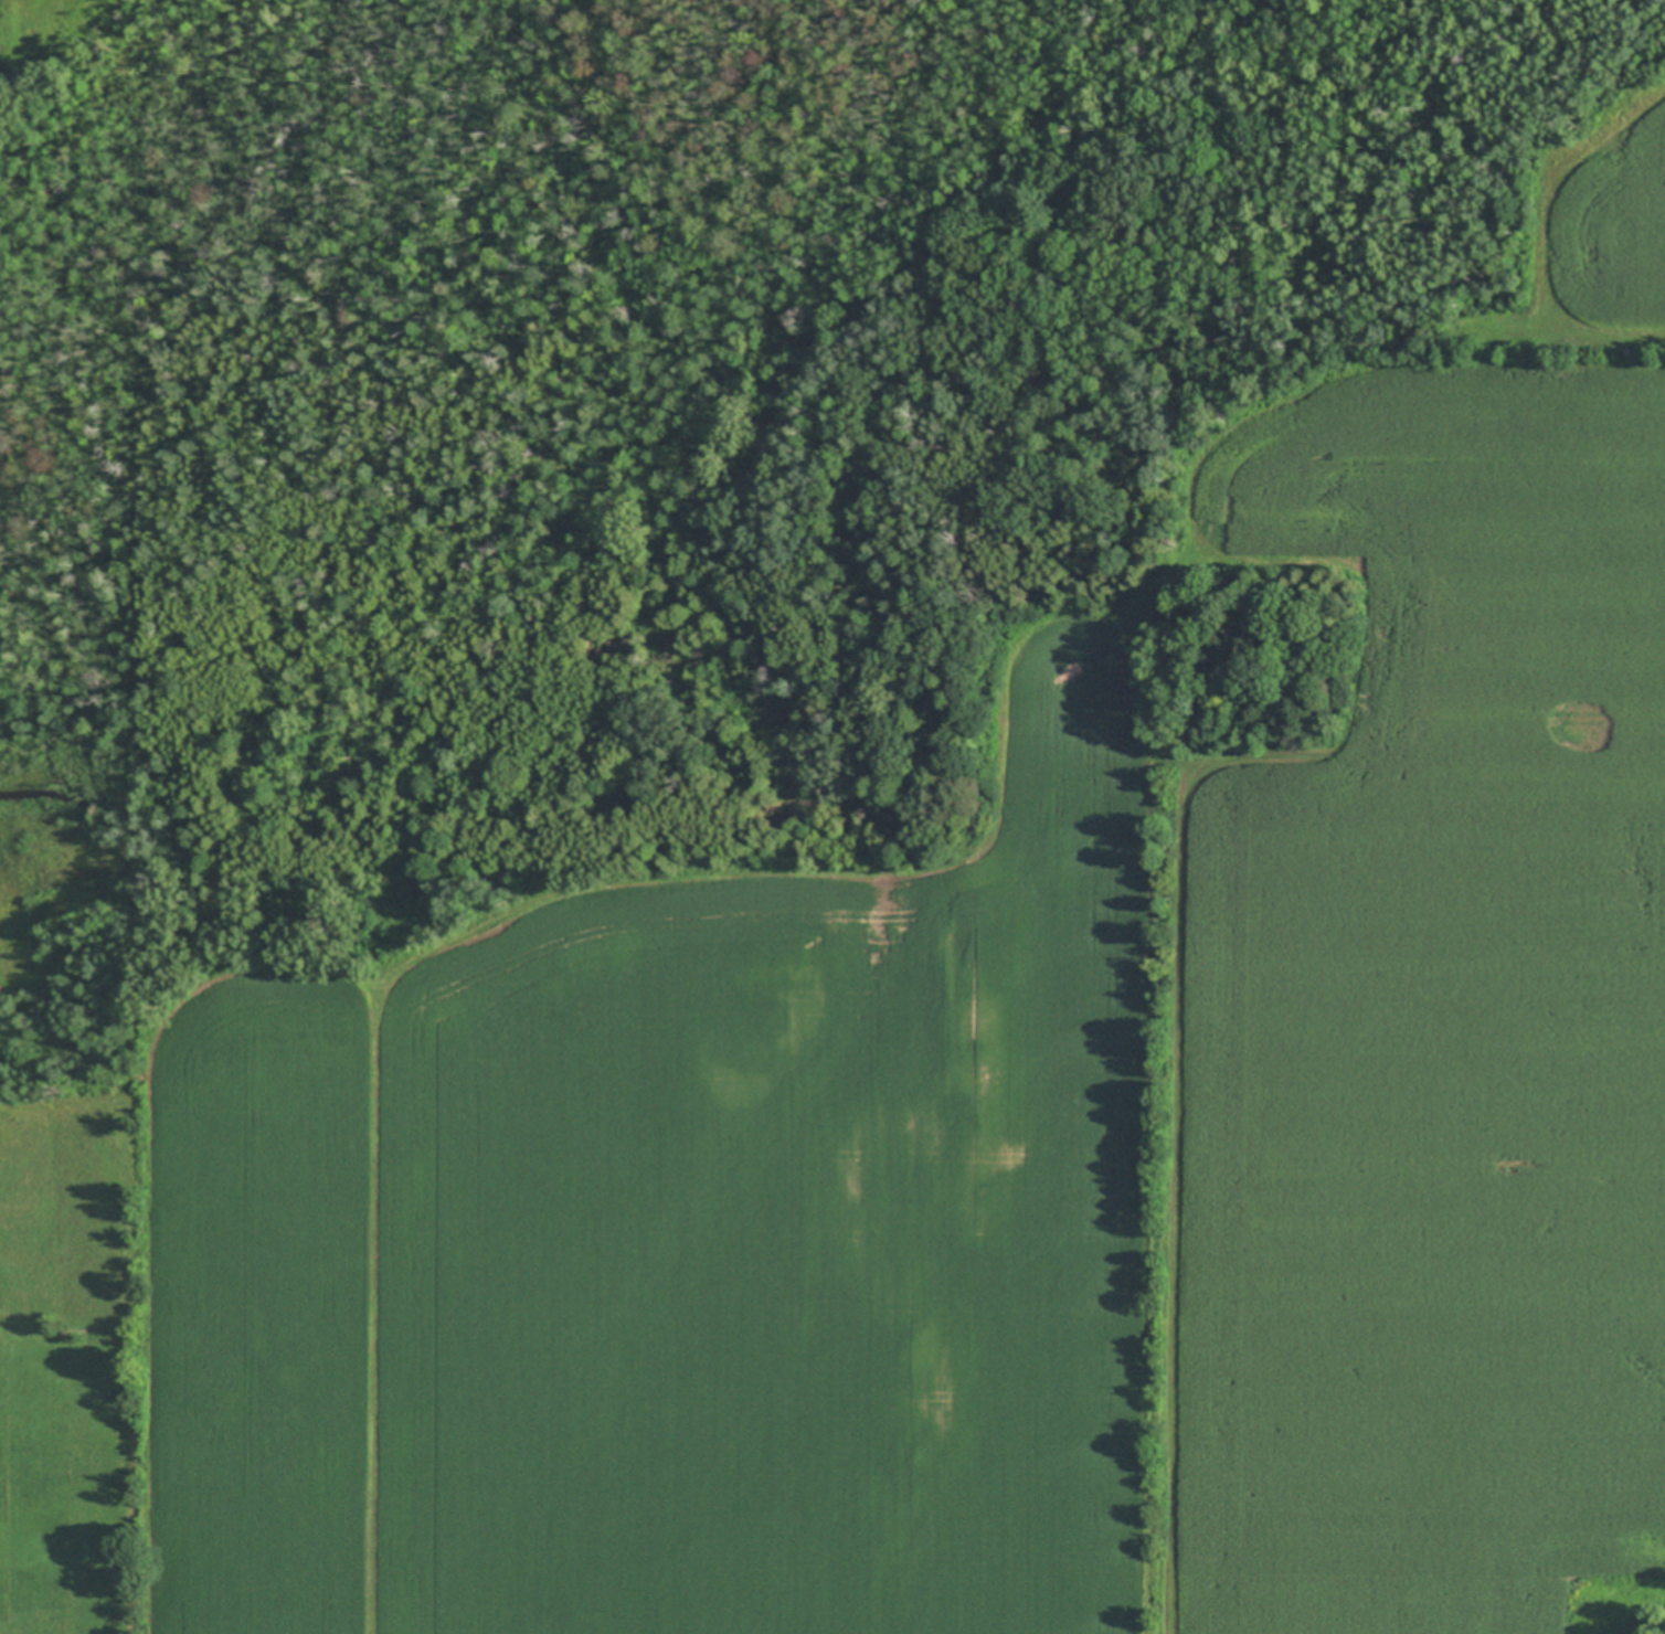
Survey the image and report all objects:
building: (1, 989)

